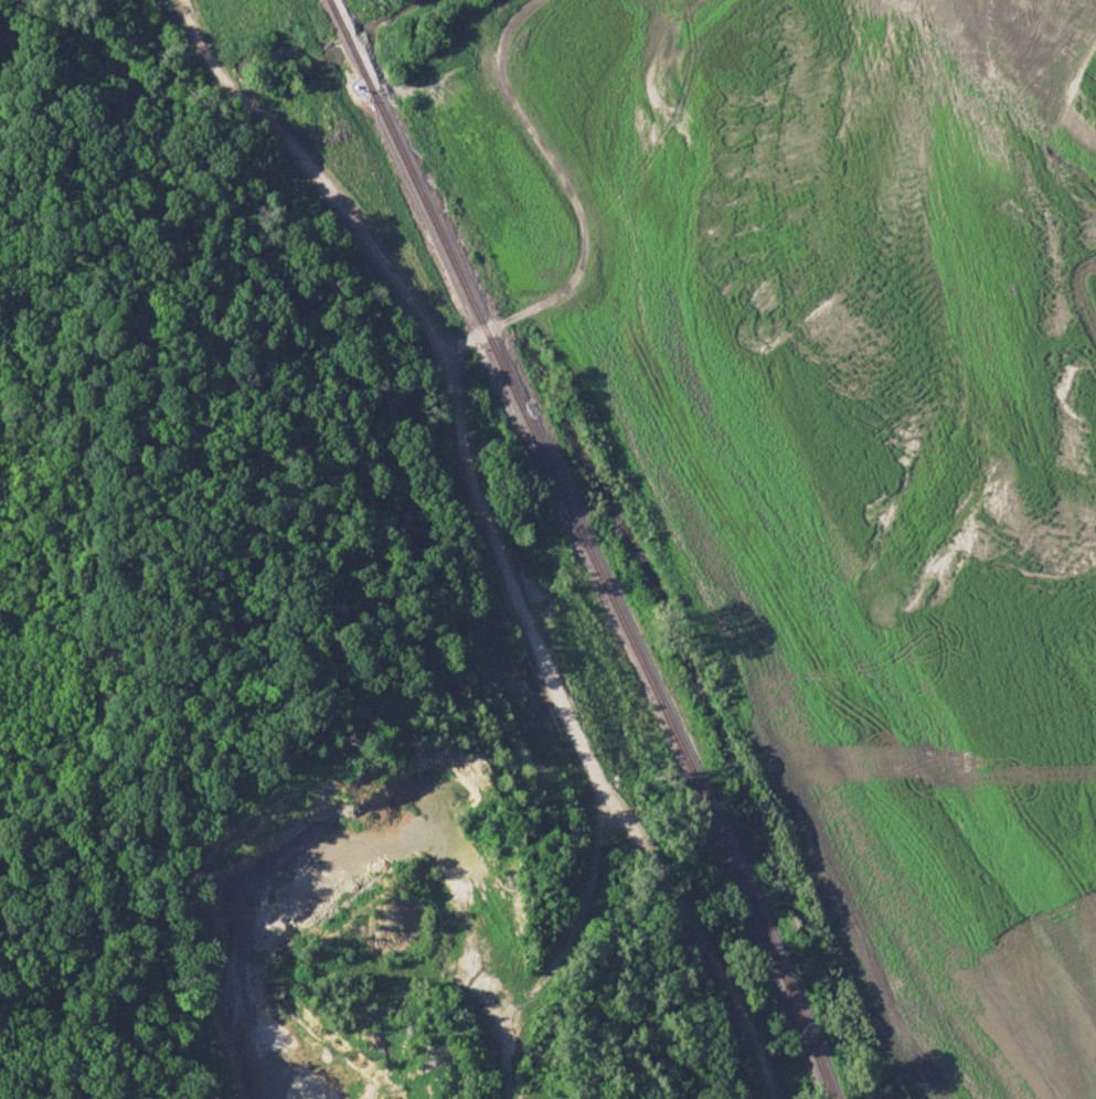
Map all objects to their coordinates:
road: (496, 532)
railway: (587, 546)

